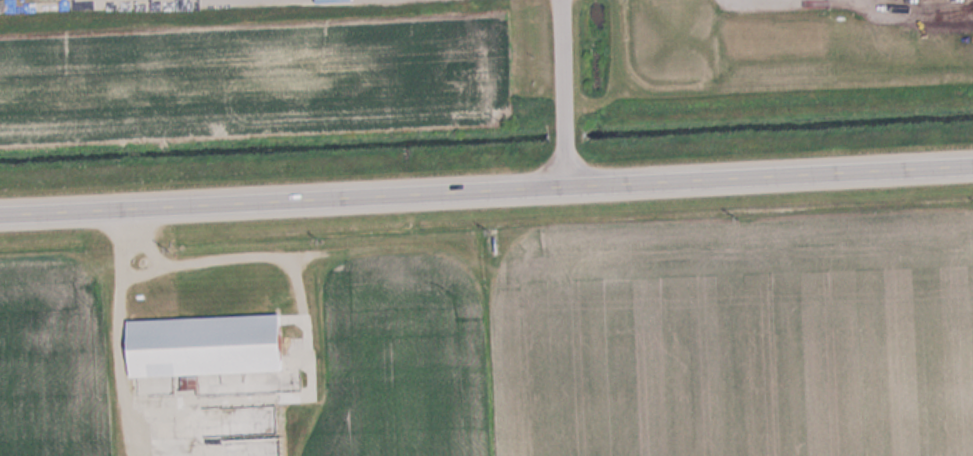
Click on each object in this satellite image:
road: (560, 65)
road: (564, 138)
road: (565, 165)
road: (486, 187)
building: (197, 346)

